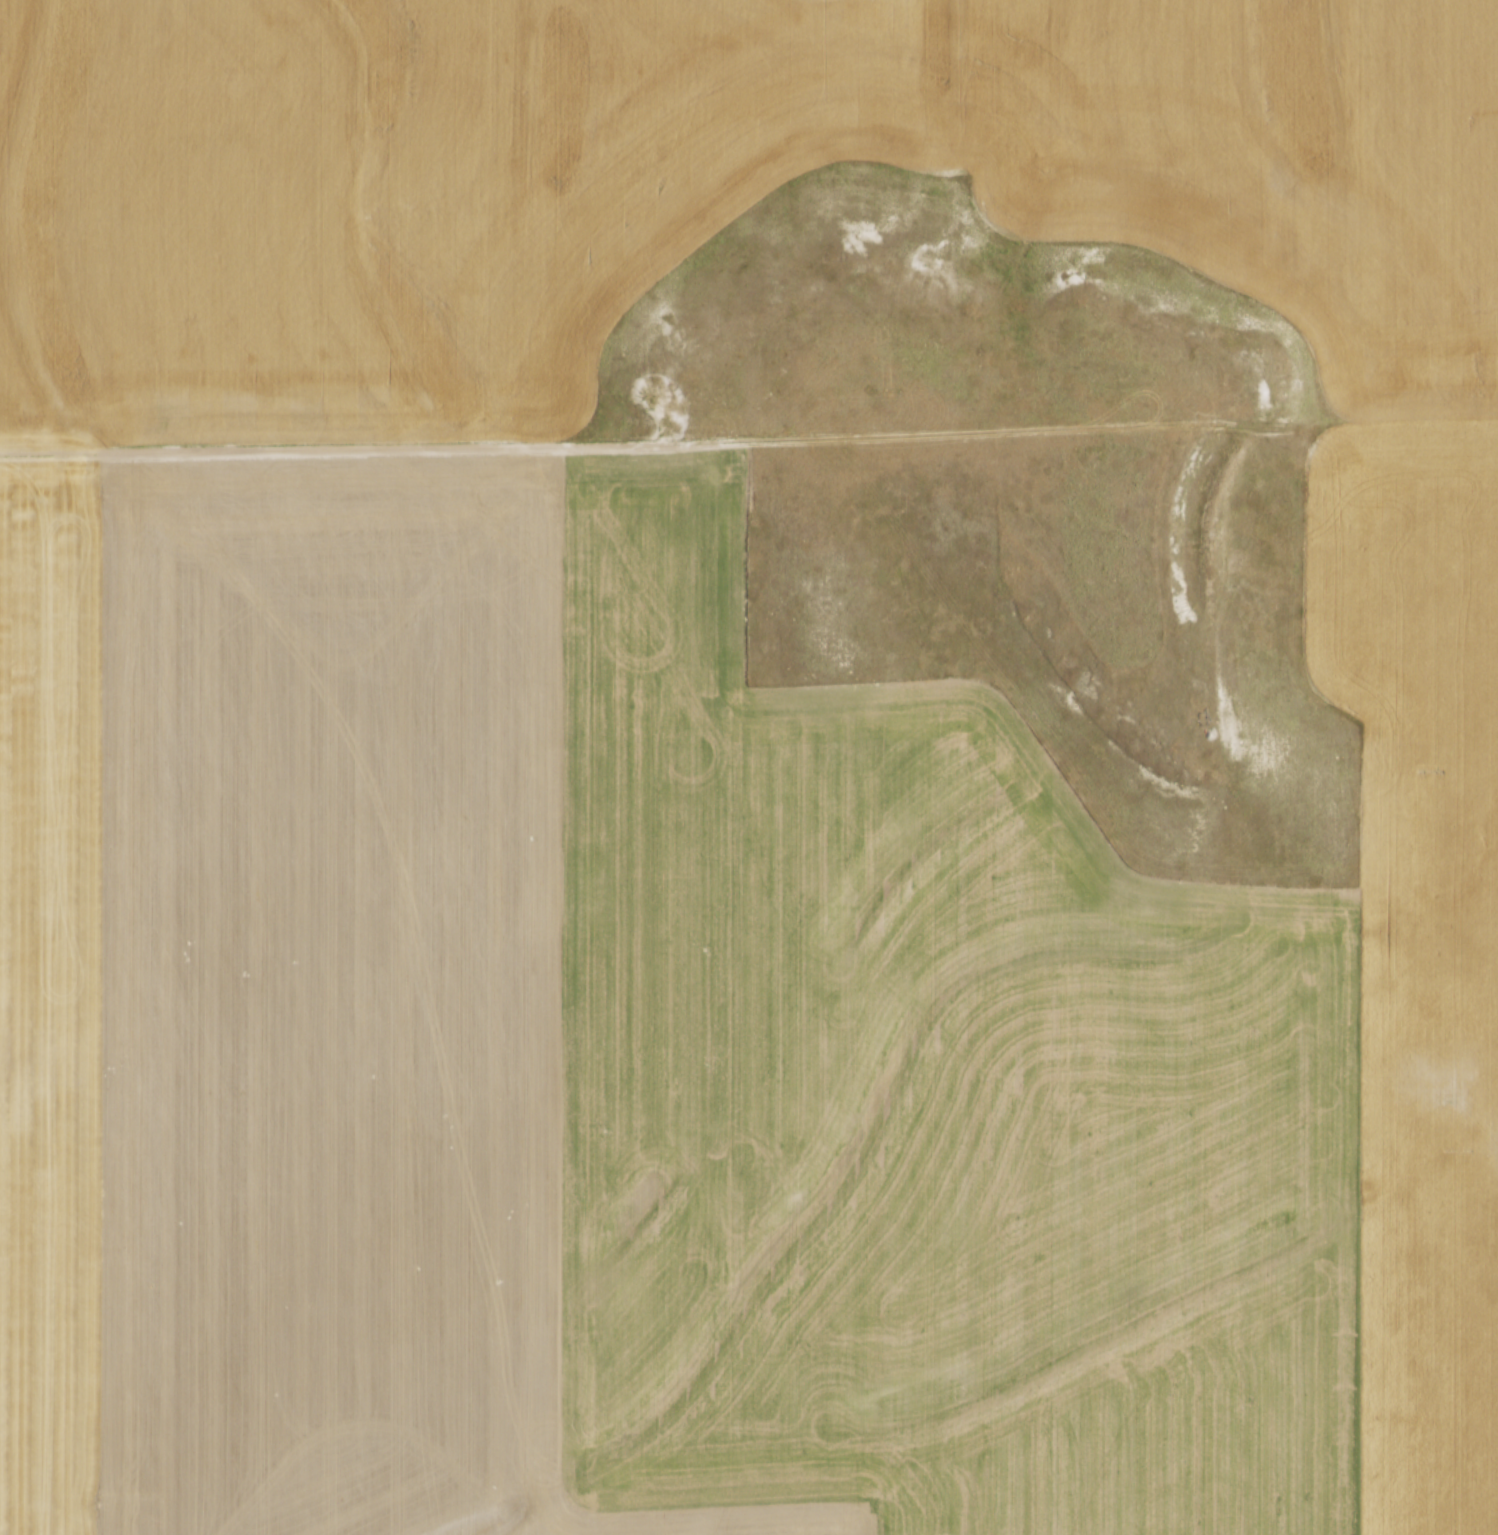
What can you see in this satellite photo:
road: (749, 478)

